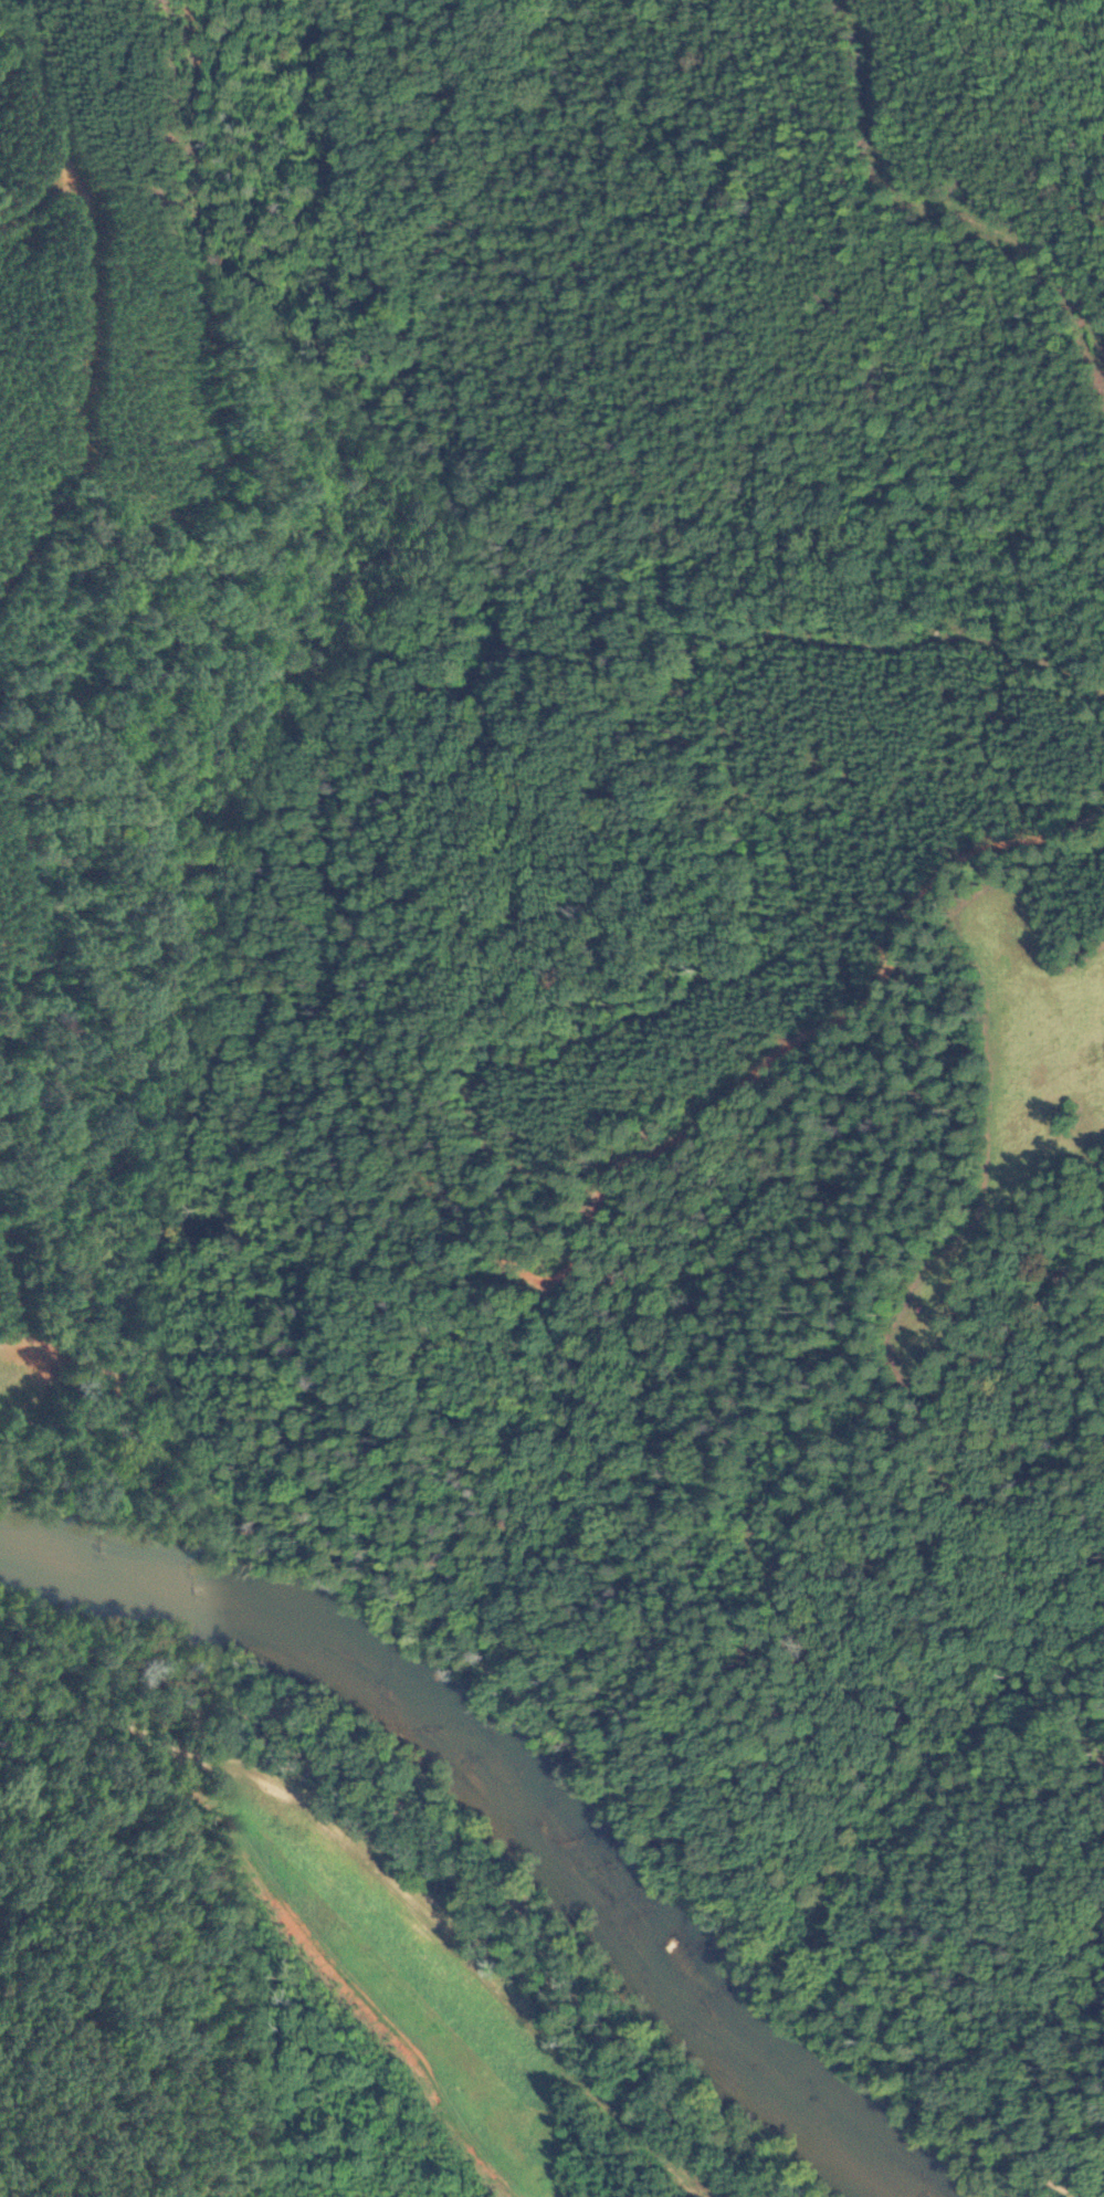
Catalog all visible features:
river: (521, 1781)

